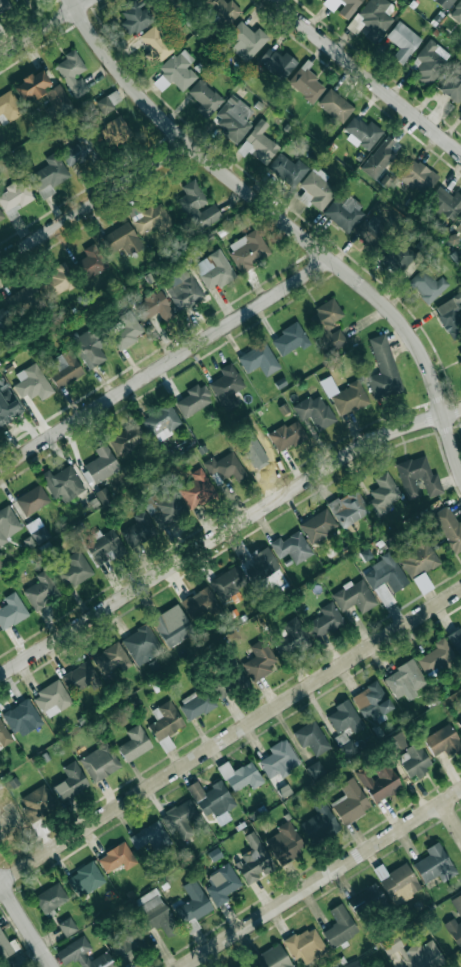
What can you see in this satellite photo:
building: (16, 0)
building: (444, 3)
building: (349, 8)
building: (224, 10)
building: (456, 12)
building: (136, 17)
building: (375, 18)
road: (44, 28)
building: (247, 40)
building: (403, 41)
building: (157, 45)
building: (277, 62)
building: (429, 62)
building: (176, 71)
building: (73, 73)
road: (368, 77)
building: (306, 84)
building: (453, 84)
building: (32, 86)
building: (205, 97)
building: (57, 101)
building: (108, 102)
building: (10, 106)
building: (336, 106)
building: (460, 113)
building: (234, 118)
building: (114, 131)
building: (362, 132)
building: (259, 144)
building: (80, 149)
building: (379, 158)
building: (288, 169)
building: (49, 175)
building: (417, 177)
building: (316, 189)
building: (15, 197)
road: (95, 203)
building: (446, 203)
building: (197, 207)
building: (344, 213)
building: (1, 216)
building: (153, 219)
road: (284, 220)
building: (458, 225)
building: (372, 234)
building: (122, 239)
building: (248, 250)
building: (402, 257)
building: (92, 262)
building: (214, 270)
building: (60, 279)
building: (427, 285)
building: (183, 289)
building: (24, 299)
building: (154, 307)
building: (450, 316)
building: (3, 318)
building: (329, 323)
building: (126, 329)
building: (291, 339)
building: (91, 347)
building: (460, 354)
building: (259, 359)
building: (460, 363)
road: (165, 364)
building: (383, 368)
building: (65, 369)
building: (32, 383)
building: (227, 387)
building: (345, 396)
building: (194, 400)
building: (8, 405)
building: (314, 411)
building: (162, 422)
building: (287, 435)
building: (127, 439)
building: (258, 453)
building: (102, 464)
building: (226, 467)
building: (417, 477)
building: (64, 482)
building: (196, 489)
building: (383, 493)
building: (103, 495)
building: (32, 499)
building: (167, 507)
building: (348, 508)
building: (7, 523)
building: (318, 525)
building: (448, 527)
building: (139, 529)
building: (37, 530)
road: (225, 533)
building: (103, 545)
building: (291, 547)
building: (417, 556)
building: (265, 561)
building: (75, 569)
building: (385, 578)
building: (228, 582)
building: (422, 582)
building: (41, 590)
building: (354, 596)
building: (199, 604)
building: (11, 611)
building: (324, 620)
building: (172, 625)
building: (292, 637)
building: (456, 640)
building: (141, 644)
building: (436, 657)
building: (110, 659)
building: (259, 660)
building: (236, 674)
building: (79, 677)
building: (405, 680)
building: (222, 688)
building: (52, 698)
building: (372, 701)
building: (196, 703)
building: (21, 715)
building: (344, 717)
building: (164, 720)
building: (459, 721)
building: (4, 734)
road: (230, 736)
building: (310, 737)
building: (442, 739)
building: (396, 741)
building: (134, 743)
building: (279, 759)
building: (414, 760)
building: (100, 762)
building: (315, 769)
building: (240, 775)
building: (70, 781)
building: (379, 781)
building: (212, 800)
building: (350, 801)
building: (37, 802)
road: (452, 817)
building: (179, 819)
building: (320, 823)
building: (151, 836)
building: (284, 842)
building: (117, 857)
building: (253, 859)
building: (434, 864)
building: (84, 879)
road: (321, 879)
building: (397, 882)
building: (221, 883)
building: (51, 897)
building: (366, 900)
building: (192, 905)
building: (455, 921)
road: (26, 922)
building: (143, 925)
building: (67, 926)
building: (339, 926)
building: (305, 945)
building: (4, 946)
building: (414, 952)
building: (82, 954)
building: (273, 957)
building: (352, 963)

